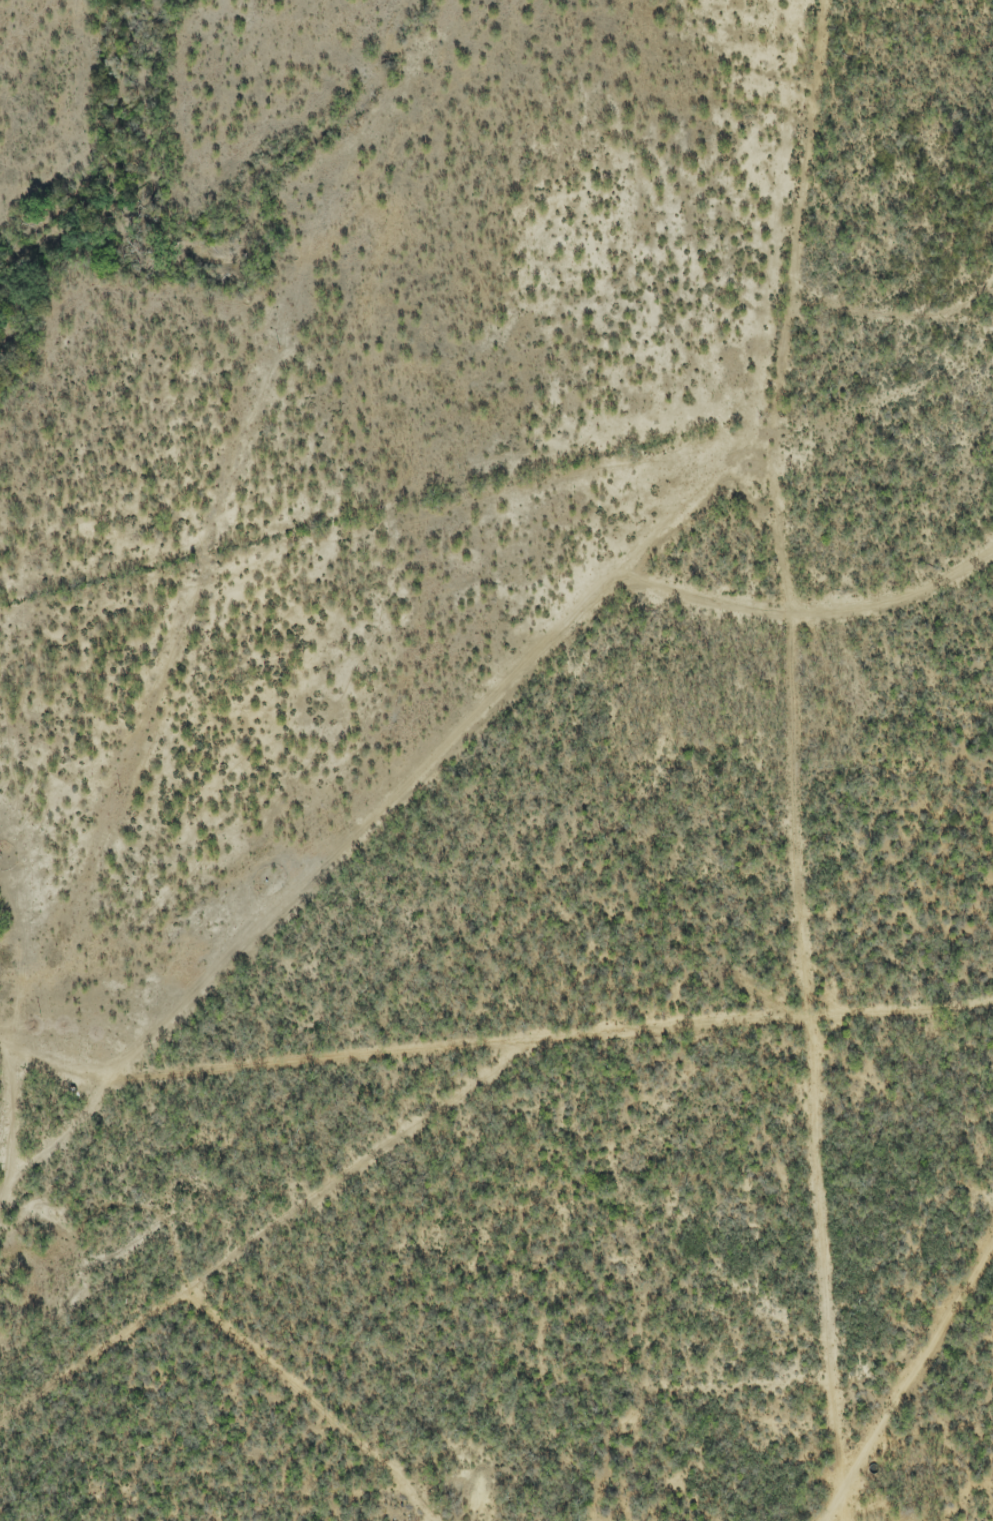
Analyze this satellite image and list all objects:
road: (908, 1383)

